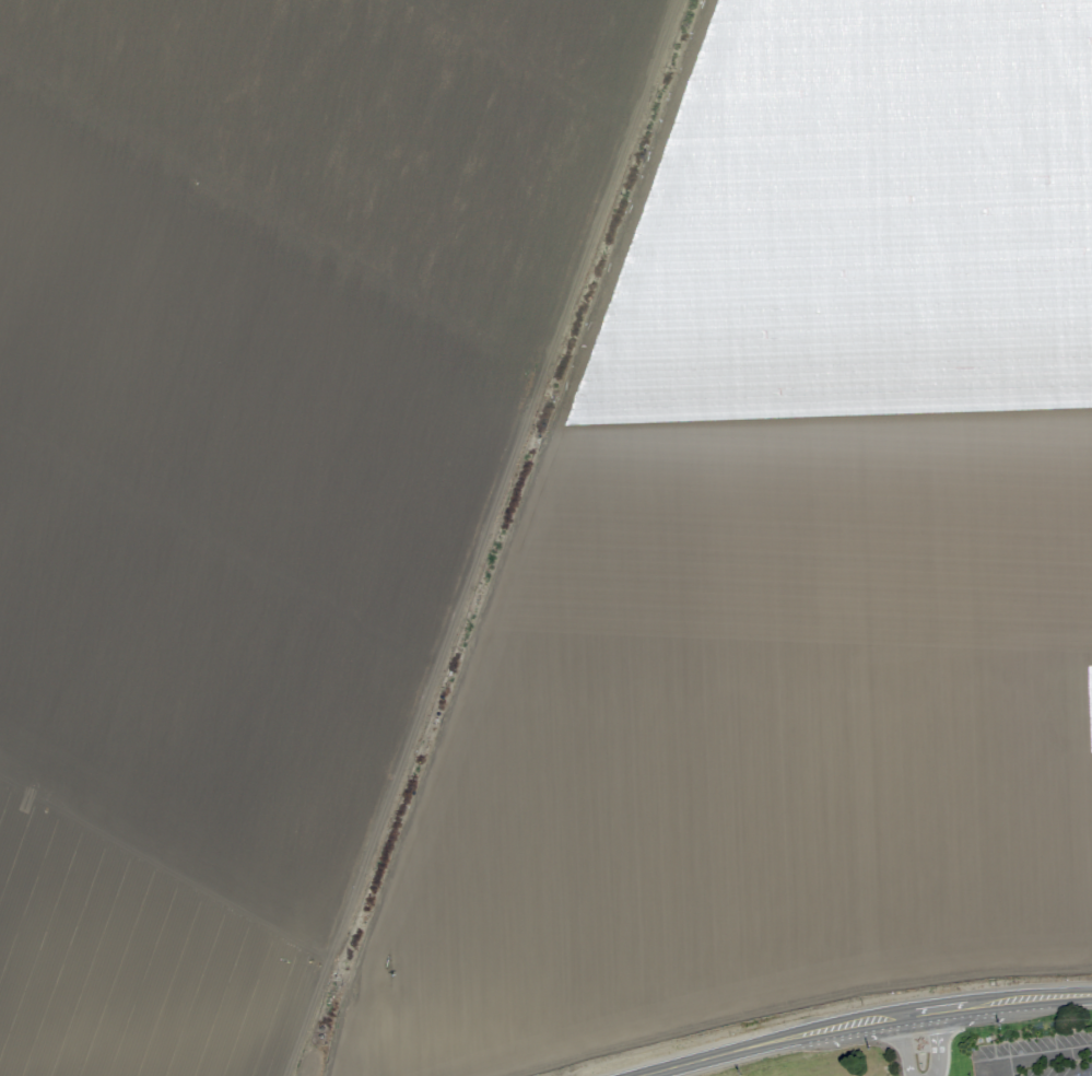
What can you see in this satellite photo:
crop: (533, 521)
road: (871, 1020)
park: (1025, 1039)
road: (939, 1041)
road: (899, 1045)
park: (867, 1053)
road: (1034, 1057)
parking lot: (1036, 1059)

